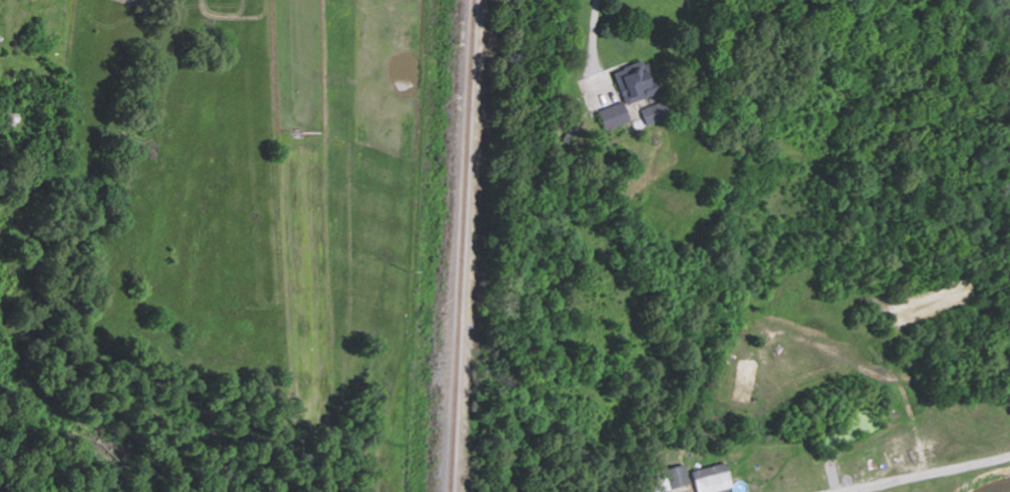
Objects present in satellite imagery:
building: (631, 94)
building: (657, 114)
building: (9, 116)
railway: (465, 246)
building: (712, 477)

